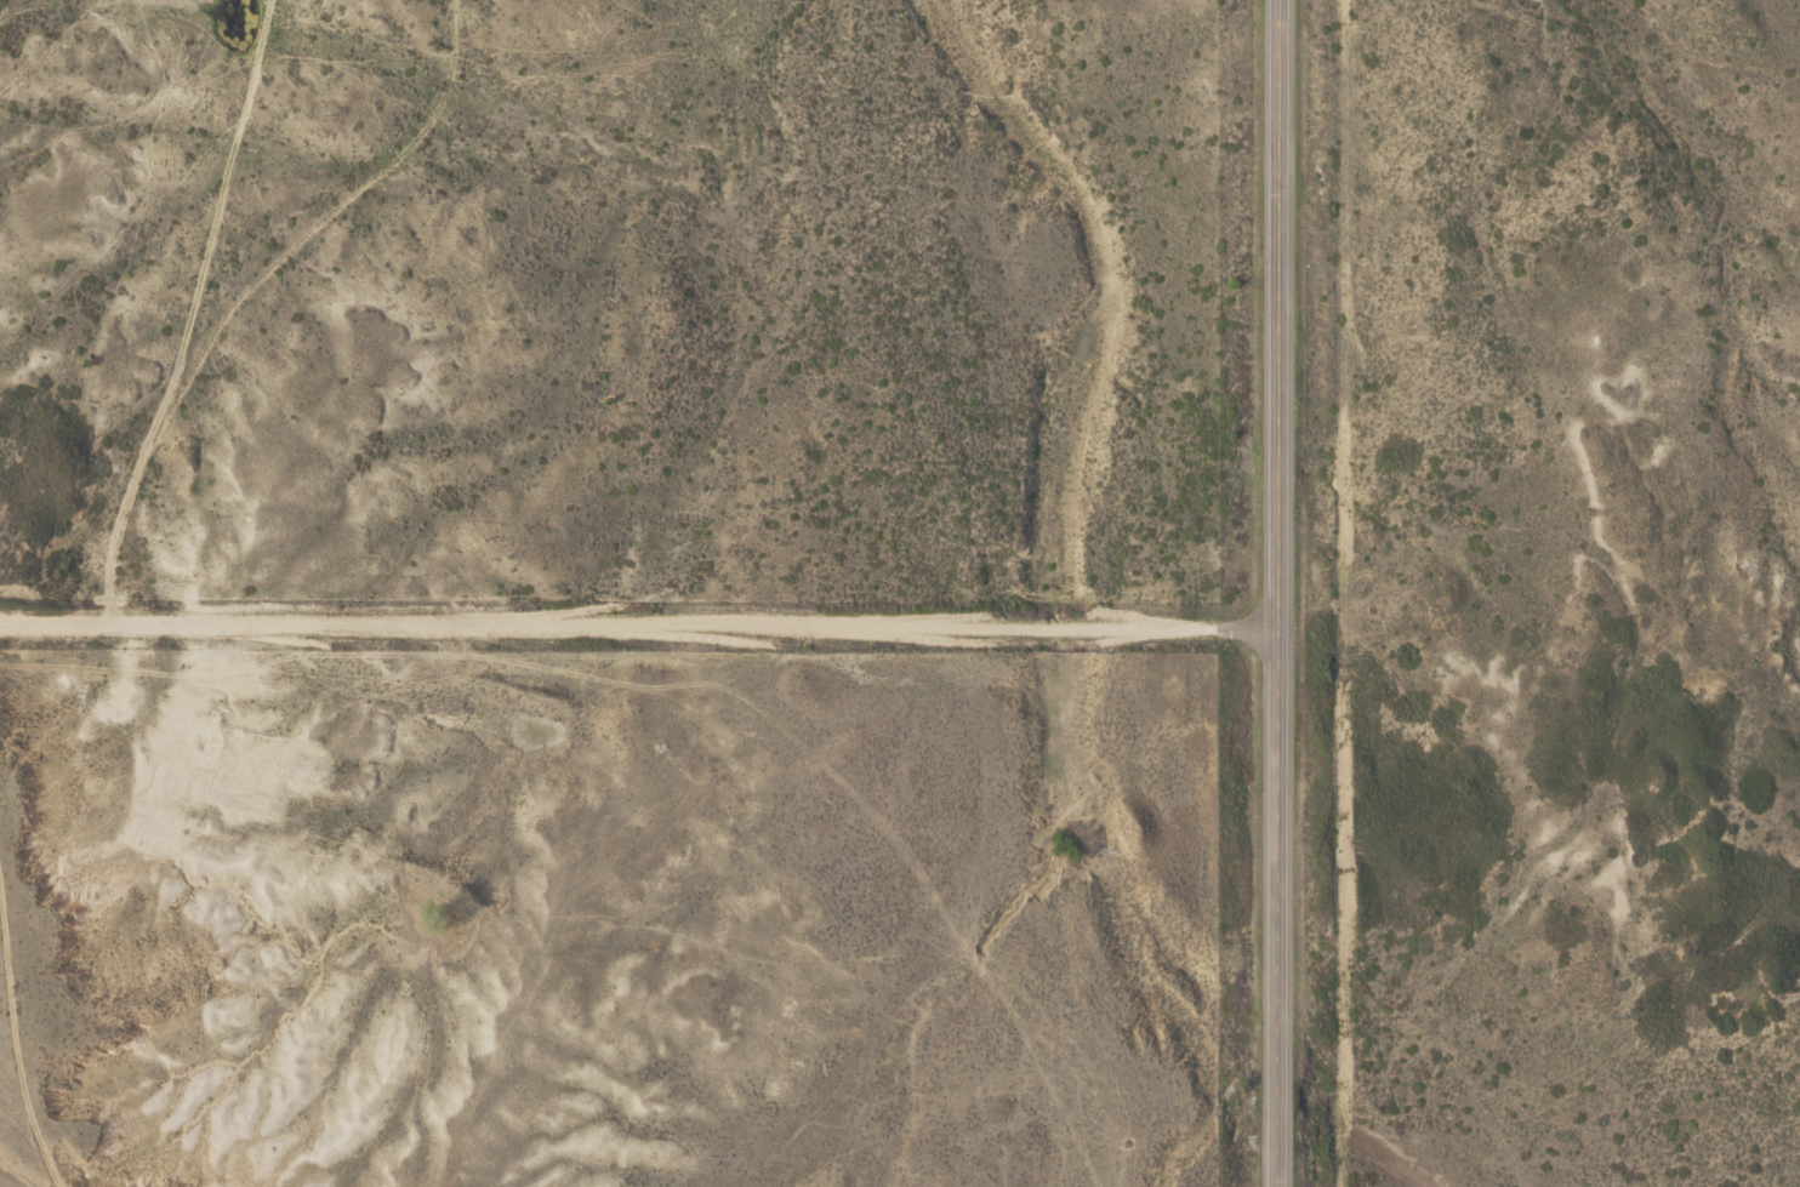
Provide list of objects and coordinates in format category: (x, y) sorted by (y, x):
road: (1287, 593)

